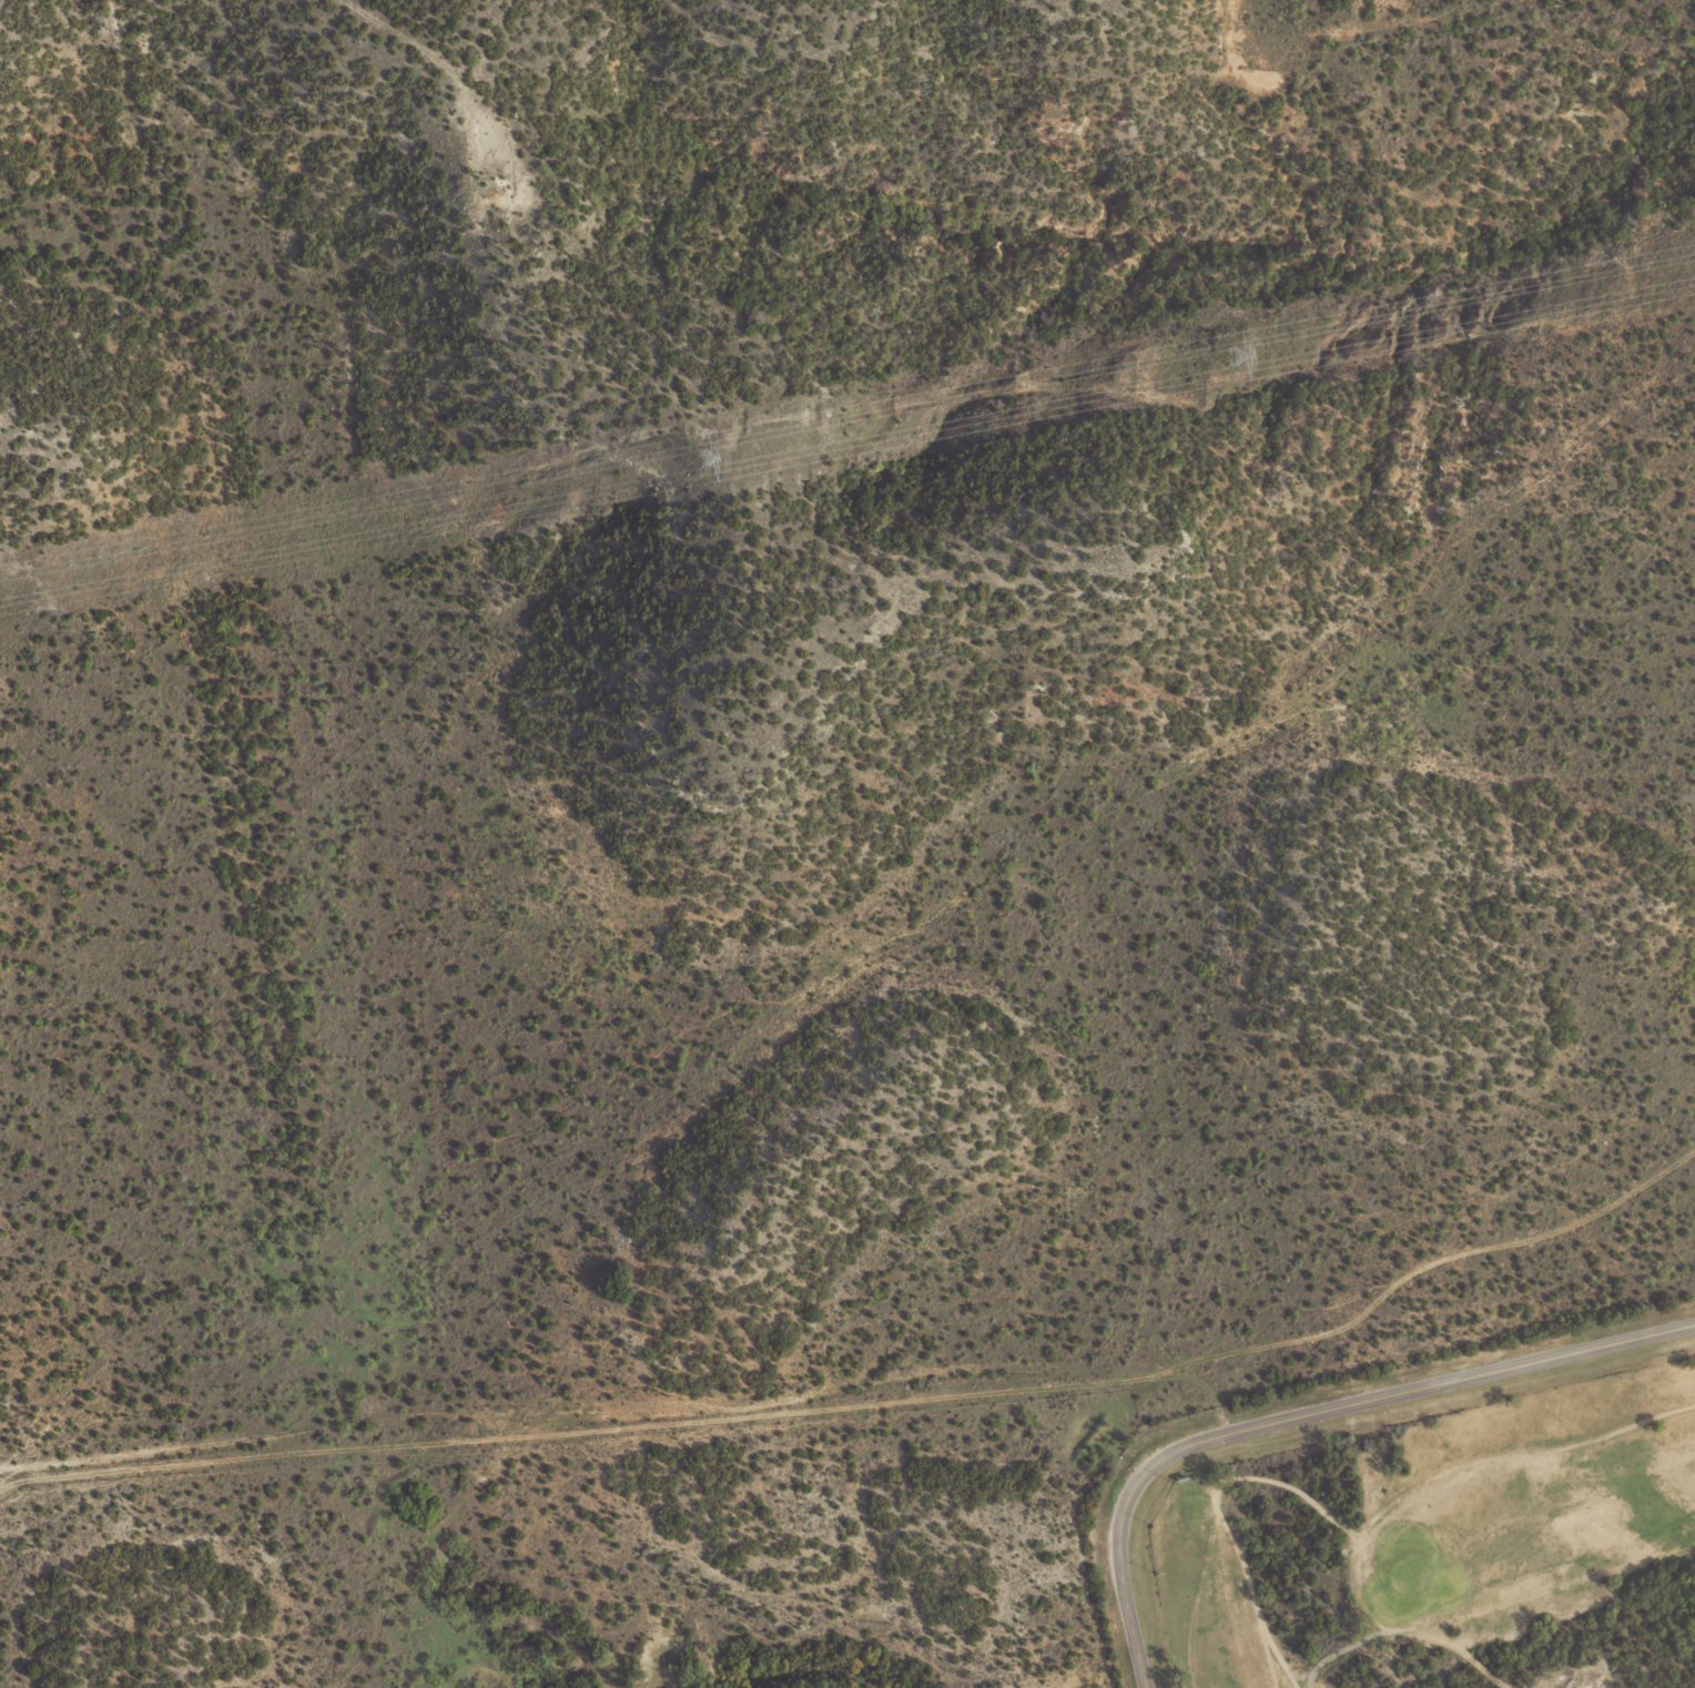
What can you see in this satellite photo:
power tower: (1239, 356)
power tower: (704, 458)
road: (881, 1392)
road: (1307, 1414)
building: (1180, 1478)
road: (415, 1577)

